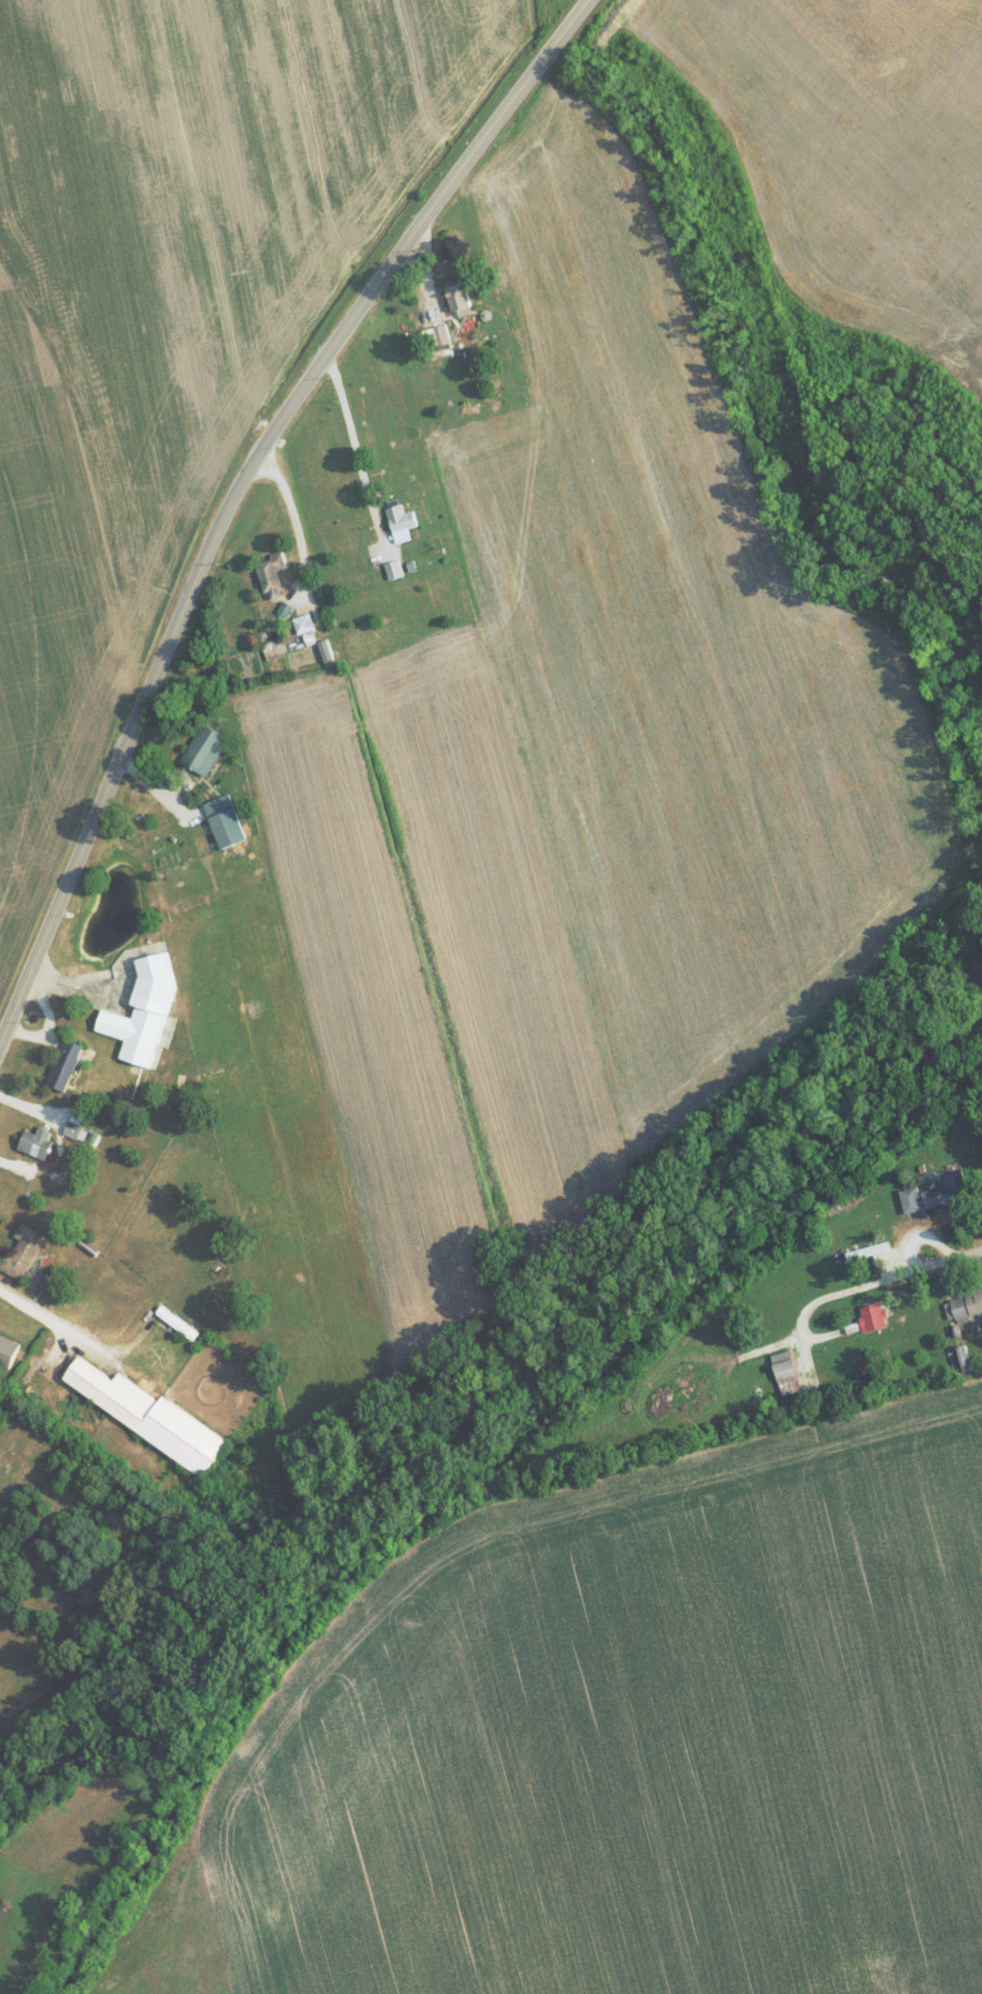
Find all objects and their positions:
road: (355, 451)
road: (237, 490)
road: (293, 523)
road: (896, 1280)
road: (35, 1315)
crop: (623, 1745)

